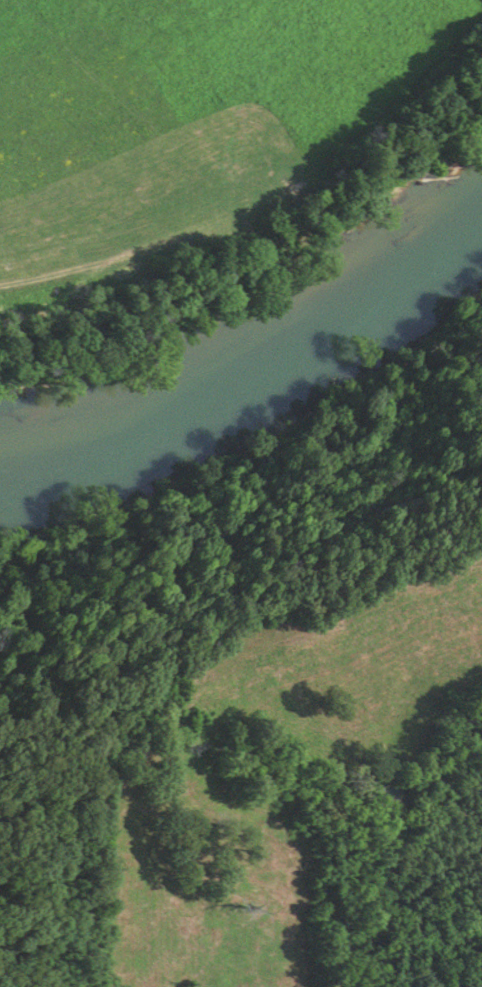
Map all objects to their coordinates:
river: (257, 395)

